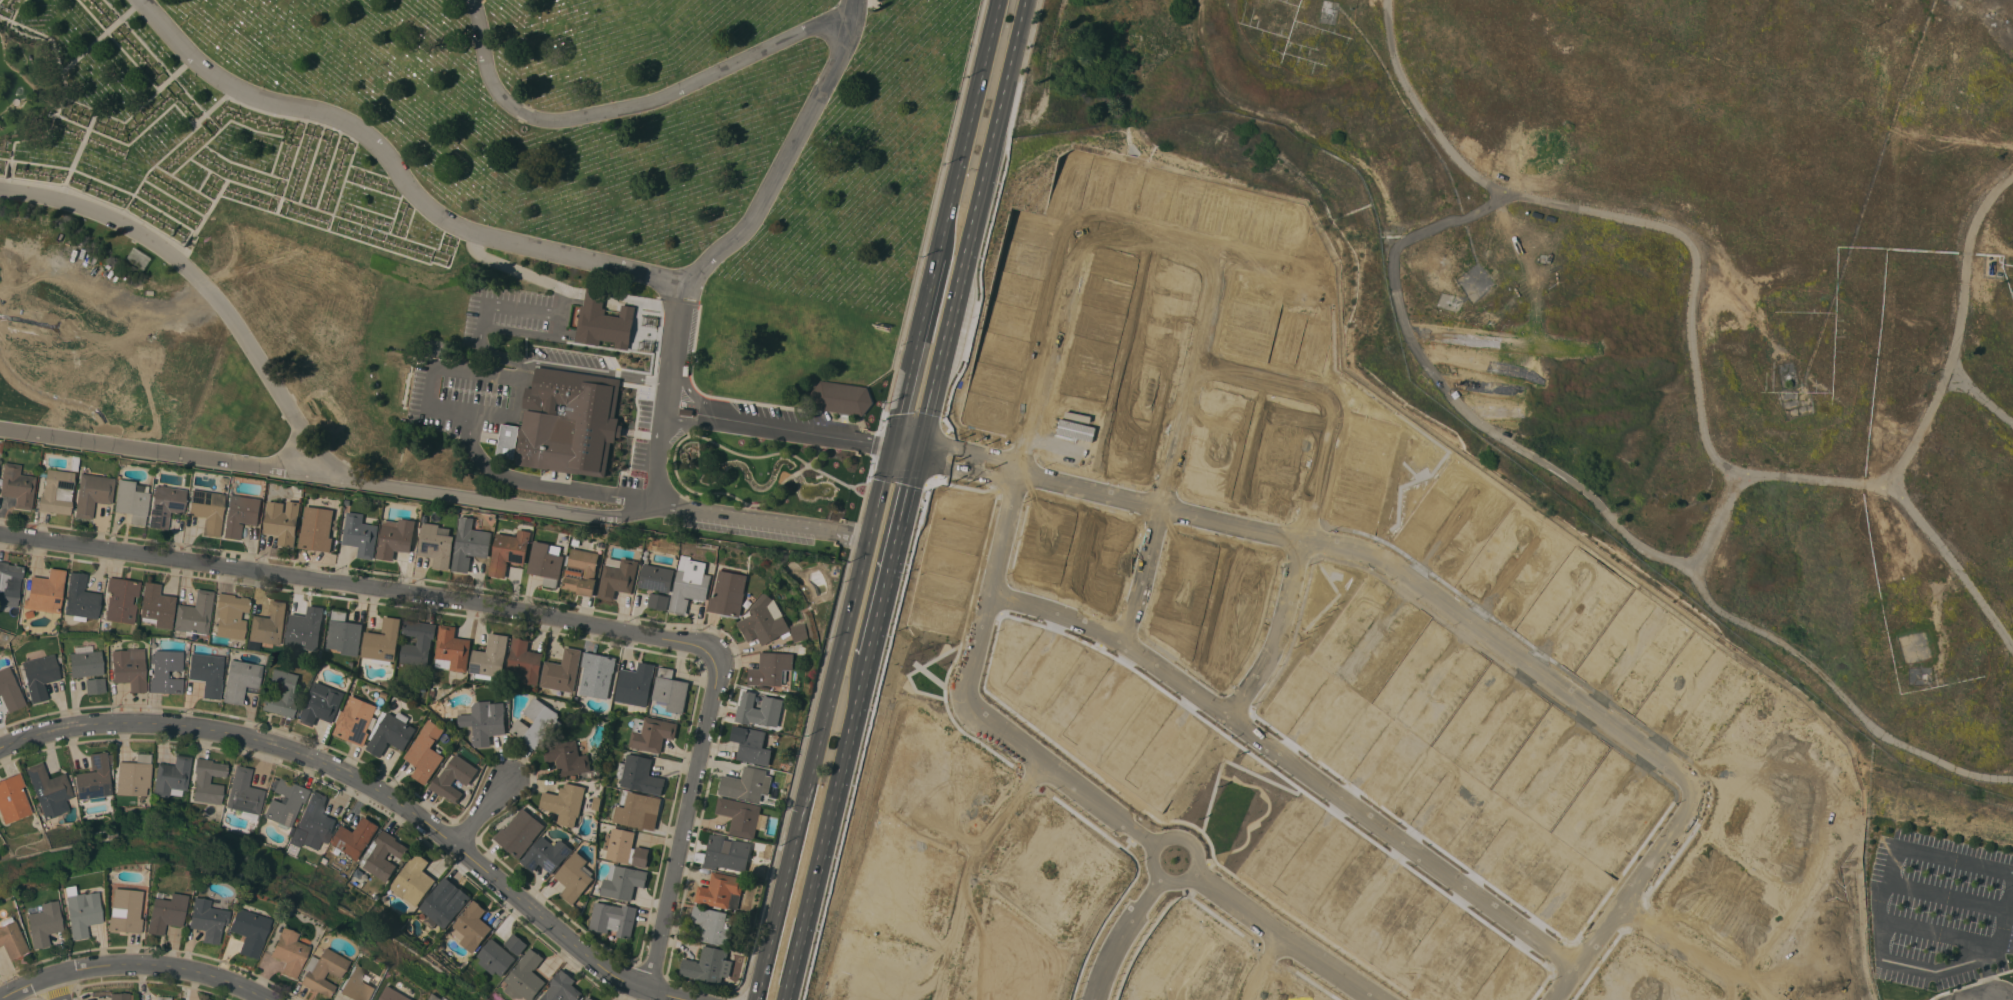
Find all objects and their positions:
road: (853, 9)
road: (628, 106)
road: (784, 160)
road: (959, 170)
road: (1608, 213)
road: (971, 226)
park: (478, 249)
road: (561, 251)
road: (509, 264)
road: (519, 308)
building: (603, 321)
road: (1052, 324)
road: (1958, 329)
building: (441, 348)
building: (398, 358)
road: (453, 367)
road: (567, 368)
building: (401, 387)
road: (904, 394)
building: (842, 398)
road: (515, 405)
road: (1324, 405)
road: (451, 406)
parking lot: (783, 415)
road: (296, 422)
building: (564, 425)
building: (1076, 429)
road: (971, 446)
traffic signals: (891, 448)
road: (162, 449)
traffic signals: (916, 452)
road: (974, 460)
road: (965, 470)
road: (541, 484)
building: (17, 485)
building: (57, 491)
building: (93, 493)
building: (132, 500)
building: (165, 505)
road: (1907, 506)
building: (207, 509)
road: (716, 510)
building: (241, 514)
building: (283, 521)
parking lot: (748, 528)
building: (316, 529)
building: (360, 534)
building: (395, 537)
building: (436, 544)
building: (469, 544)
building: (508, 551)
road: (891, 553)
building: (545, 564)
building: (582, 572)
road: (1146, 572)
building: (617, 578)
building: (656, 578)
building: (9, 583)
building: (689, 584)
road: (365, 590)
building: (46, 591)
building: (728, 593)
building: (81, 598)
building: (121, 599)
building: (659, 601)
building: (156, 606)
building: (194, 613)
building: (231, 615)
building: (764, 621)
road: (1280, 623)
building: (269, 624)
building: (305, 628)
building: (799, 631)
building: (344, 634)
building: (383, 640)
building: (418, 642)
road: (842, 644)
building: (452, 650)
building: (490, 657)
building: (524, 662)
building: (86, 663)
building: (129, 668)
building: (770, 669)
building: (165, 671)
building: (562, 671)
building: (207, 672)
building: (597, 675)
building: (39, 676)
building: (240, 680)
building: (95, 685)
building: (635, 685)
building: (9, 690)
building: (671, 690)
building: (281, 692)
building: (321, 703)
building: (759, 710)
road: (1603, 717)
building: (356, 720)
building: (488, 722)
building: (536, 723)
building: (392, 733)
building: (651, 733)
building: (752, 745)
building: (426, 752)
building: (567, 757)
building: (134, 775)
building: (640, 775)
building: (172, 776)
building: (94, 777)
building: (454, 778)
building: (208, 780)
building: (747, 784)
building: (49, 789)
road: (367, 789)
building: (244, 794)
building: (13, 798)
road: (832, 802)
road: (1101, 802)
building: (565, 803)
building: (285, 804)
building: (636, 808)
road: (483, 812)
building: (741, 816)
building: (313, 823)
road: (683, 829)
building: (520, 833)
building: (355, 837)
road: (1401, 841)
building: (625, 847)
building: (727, 853)
building: (547, 854)
building: (385, 855)
road: (1956, 858)
road: (970, 867)
road: (1186, 873)
building: (574, 877)
building: (413, 880)
building: (623, 881)
building: (721, 891)
road: (782, 892)
road: (1948, 895)
building: (444, 906)
parking lot: (1939, 909)
building: (125, 910)
building: (81, 911)
building: (165, 912)
building: (614, 918)
road: (2006, 918)
building: (207, 919)
building: (43, 923)
building: (713, 925)
building: (470, 927)
building: (248, 930)
road: (1120, 932)
road: (1939, 932)
road: (1285, 935)
building: (11, 938)
building: (516, 944)
road: (783, 945)
building: (288, 951)
building: (495, 957)
road: (133, 963)
building: (708, 965)
road: (1912, 965)
building: (321, 971)
road: (763, 971)
road: (790, 974)
building: (525, 976)
road: (106, 980)
road: (187, 986)
building: (358, 986)
road: (56, 987)
building: (562, 988)
road: (57, 992)
road: (76, 994)
building: (396, 994)
building: (120, 996)
road: (751, 996)
building: (163, 997)
road: (38, 998)
building: (589, 998)
road: (35, 999)

